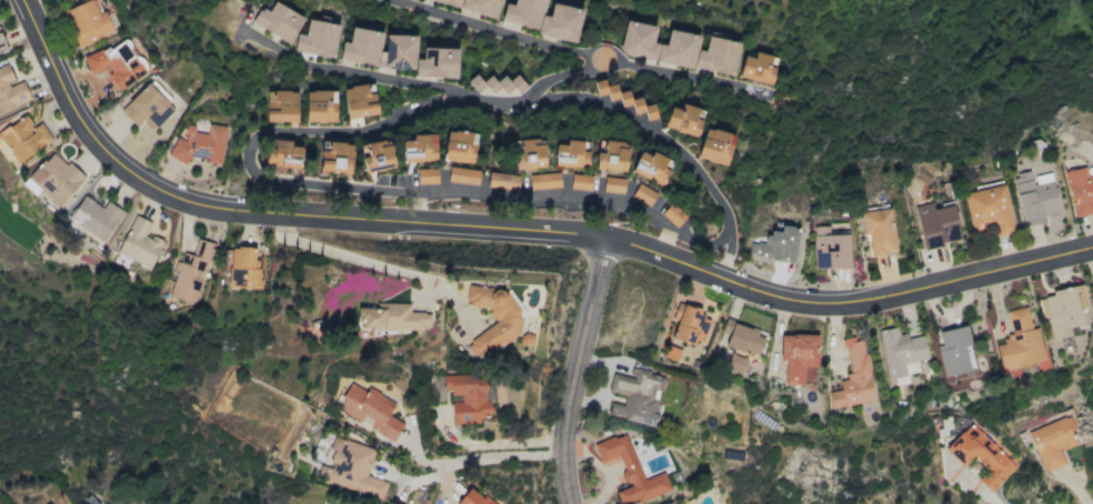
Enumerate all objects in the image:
building: (477, 6)
building: (89, 18)
building: (278, 21)
building: (568, 23)
road: (508, 33)
building: (317, 38)
building: (1, 42)
building: (656, 44)
building: (378, 48)
building: (437, 62)
building: (116, 63)
building: (756, 67)
road: (645, 69)
building: (495, 83)
building: (11, 90)
road: (510, 99)
building: (359, 101)
building: (280, 105)
building: (320, 105)
building: (146, 107)
building: (682, 119)
park: (620, 122)
building: (23, 138)
building: (199, 143)
building: (459, 145)
building: (714, 145)
building: (419, 148)
building: (282, 153)
building: (529, 153)
building: (570, 154)
building: (611, 154)
building: (377, 155)
building: (335, 157)
building: (658, 167)
building: (427, 175)
building: (462, 175)
building: (53, 178)
building: (502, 180)
building: (544, 180)
building: (580, 182)
building: (613, 184)
road: (367, 188)
building: (1080, 190)
building: (643, 194)
building: (1034, 196)
road: (415, 206)
building: (989, 209)
building: (96, 216)
building: (936, 223)
road: (513, 229)
building: (878, 231)
road: (662, 240)
building: (139, 242)
building: (830, 248)
road: (725, 253)
road: (351, 256)
building: (243, 268)
building: (190, 270)
building: (1062, 309)
building: (391, 316)
building: (493, 319)
building: (689, 324)
building: (742, 337)
building: (1022, 343)
building: (953, 351)
building: (901, 352)
building: (796, 354)
building: (734, 363)
road: (575, 369)
building: (808, 374)
building: (853, 376)
building: (468, 396)
building: (636, 396)
building: (370, 410)
building: (1051, 441)
road: (493, 442)
building: (980, 455)
road: (475, 457)
building: (351, 467)
building: (630, 470)
road: (980, 488)
building: (472, 497)
building: (669, 503)

